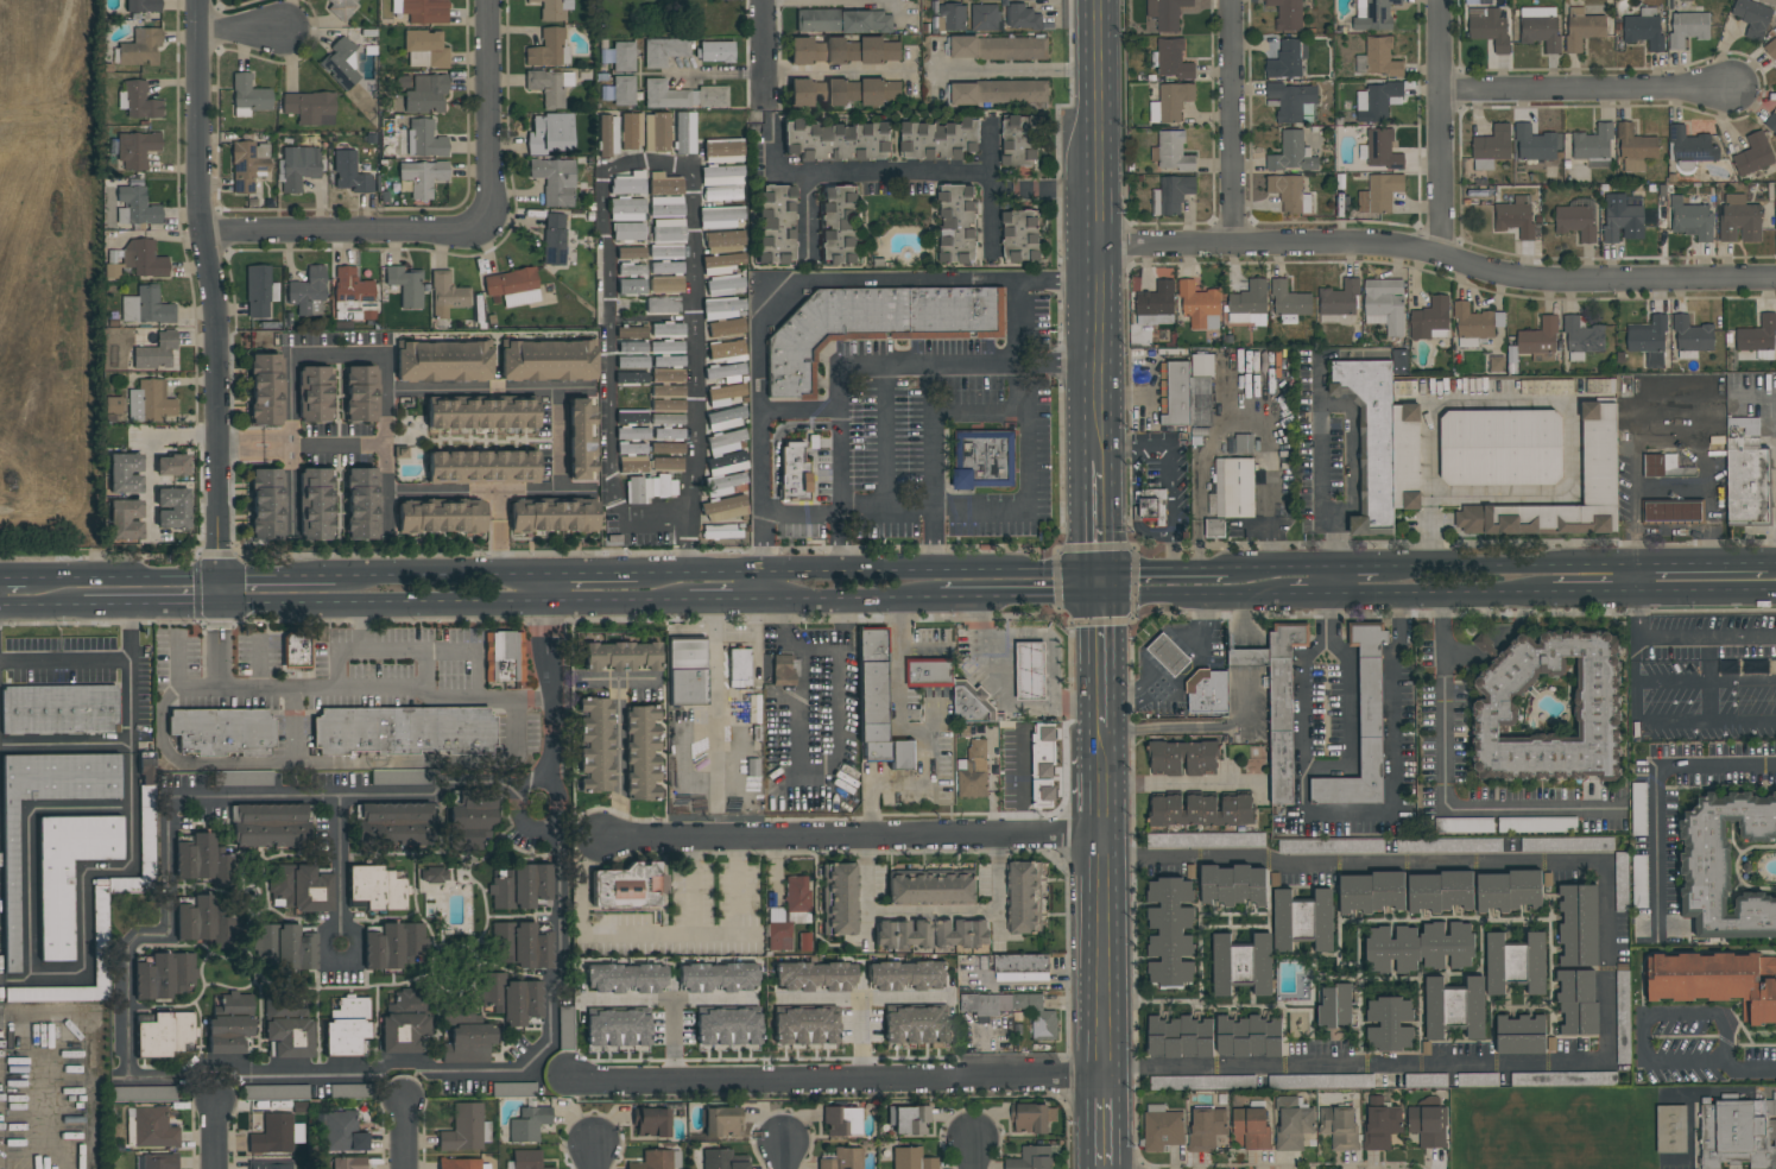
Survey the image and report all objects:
building: (143, 6)
building: (341, 6)
building: (551, 8)
building: (424, 11)
building: (1167, 13)
building: (1287, 14)
building: (1374, 14)
building: (952, 17)
building: (987, 17)
building: (1751, 17)
building: (1023, 18)
building: (843, 21)
building: (1489, 27)
building: (1540, 27)
building: (1688, 27)
building: (1582, 29)
building: (1644, 29)
road: (239, 32)
building: (1771, 45)
building: (140, 48)
building: (999, 48)
building: (424, 49)
building: (548, 49)
building: (663, 51)
building: (715, 51)
road: (764, 51)
building: (843, 51)
building: (619, 56)
building: (1378, 58)
building: (1173, 59)
building: (1285, 61)
building: (342, 63)
road: (1025, 70)
road: (834, 72)
road: (716, 74)
building: (549, 87)
building: (622, 90)
road: (1587, 91)
building: (808, 93)
building: (843, 93)
building: (881, 93)
building: (999, 93)
building: (425, 94)
building: (683, 95)
building: (247, 96)
building: (139, 101)
building: (1291, 101)
building: (1377, 101)
building: (1171, 102)
building: (310, 108)
road: (487, 110)
road: (1233, 121)
building: (1770, 124)
road: (1442, 126)
building: (630, 129)
building: (656, 132)
building: (683, 133)
building: (549, 134)
building: (607, 135)
building: (424, 139)
building: (940, 139)
building: (836, 141)
building: (1020, 141)
building: (1536, 144)
building: (1593, 145)
building: (1690, 146)
building: (1492, 147)
building: (135, 150)
building: (1382, 150)
building: (1635, 150)
building: (722, 151)
building: (1174, 152)
building: (1293, 154)
building: (1753, 154)
building: (247, 165)
building: (297, 168)
road: (618, 168)
road: (927, 172)
building: (349, 173)
building: (722, 175)
building: (421, 178)
building: (554, 181)
building: (628, 183)
building: (664, 184)
building: (1379, 192)
building: (721, 194)
building: (1289, 194)
building: (1171, 195)
building: (135, 207)
building: (665, 207)
building: (626, 209)
road: (803, 215)
building: (1515, 216)
building: (720, 217)
building: (1622, 219)
building: (1692, 219)
building: (1576, 220)
building: (1739, 220)
road: (991, 223)
building: (775, 225)
building: (838, 225)
building: (957, 225)
road: (343, 229)
building: (668, 230)
building: (627, 232)
building: (1020, 235)
building: (554, 239)
building: (723, 241)
road: (1431, 249)
building: (630, 252)
building: (665, 252)
building: (144, 259)
building: (720, 264)
building: (665, 267)
building: (631, 270)
road: (840, 280)
road: (1083, 283)
road: (1114, 283)
building: (665, 284)
building: (722, 285)
building: (405, 286)
building: (512, 286)
building: (630, 286)
road: (209, 287)
building: (306, 290)
building: (259, 291)
building: (447, 295)
building: (352, 296)
building: (1339, 299)
building: (1289, 303)
building: (1156, 304)
building: (1249, 304)
building: (662, 305)
building: (1200, 305)
building: (1384, 305)
building: (145, 307)
building: (723, 308)
building: (1430, 320)
building: (1475, 322)
building: (874, 326)
building: (725, 328)
building: (666, 329)
building: (631, 333)
building: (1758, 335)
building: (1538, 337)
building: (1692, 337)
building: (1582, 339)
building: (1648, 340)
building: (665, 347)
building: (726, 350)
building: (156, 352)
road: (337, 353)
building: (442, 361)
building: (546, 361)
building: (668, 361)
road: (1024, 368)
building: (668, 375)
building: (723, 375)
building: (631, 377)
road: (487, 388)
building: (265, 390)
building: (1187, 392)
building: (314, 393)
building: (360, 393)
building: (723, 394)
building: (668, 398)
building: (150, 402)
building: (114, 405)
building: (481, 415)
building: (726, 415)
building: (631, 417)
building: (666, 419)
road: (840, 424)
road: (1670, 429)
building: (632, 434)
building: (668, 434)
road: (558, 440)
building: (579, 440)
road: (933, 440)
building: (1371, 440)
road: (775, 441)
road: (290, 442)
building: (725, 442)
road: (385, 443)
road: (148, 444)
road: (301, 444)
building: (1239, 444)
road: (1127, 446)
building: (1500, 447)
building: (632, 448)
building: (666, 448)
building: (400, 453)
building: (1599, 454)
building: (986, 460)
building: (632, 463)
building: (666, 463)
building: (726, 463)
building: (171, 465)
building: (481, 466)
building: (1664, 467)
road: (1028, 470)
building: (125, 473)
building: (799, 473)
road: (1322, 473)
building: (1749, 480)
building: (722, 484)
road: (1430, 484)
building: (650, 488)
building: (1233, 489)
road: (761, 491)
road: (488, 492)
road: (1171, 494)
building: (361, 503)
building: (315, 504)
building: (1154, 504)
building: (266, 505)
building: (172, 508)
building: (725, 508)
road: (847, 511)
building: (1671, 512)
building: (552, 517)
building: (441, 518)
building: (125, 520)
building: (1215, 529)
road: (1673, 532)
road: (683, 546)
road: (1771, 562)
road: (1508, 563)
road: (1702, 563)
road: (1276, 565)
road: (1352, 565)
road: (1100, 567)
traffic signals: (1115, 567)
road: (1171, 567)
traffic signals: (1085, 568)
road: (860, 570)
road: (588, 574)
road: (13, 575)
road: (122, 575)
road: (277, 575)
road: (437, 575)
traffic signals: (219, 576)
road: (1637, 579)
road: (1325, 581)
road: (1085, 582)
road: (1115, 582)
road: (764, 588)
road: (219, 590)
road: (545, 590)
road: (1707, 594)
road: (1595, 595)
road: (1439, 596)
traffic signals: (1086, 598)
road: (1101, 598)
traffic signals: (1117, 598)
road: (1203, 598)
road: (1308, 598)
road: (1012, 599)
road: (853, 604)
road: (728, 605)
road: (151, 606)
traffic signals: (219, 606)
road: (455, 606)
road: (42, 607)
road: (533, 637)
road: (1445, 637)
road: (1686, 638)
road: (1050, 640)
building: (872, 644)
building: (1484, 644)
road: (219, 647)
road: (411, 649)
building: (296, 651)
road: (551, 652)
building: (1168, 655)
building: (620, 656)
building: (504, 657)
road: (65, 661)
road: (1117, 663)
building: (739, 668)
road: (424, 669)
building: (784, 670)
building: (930, 670)
building: (1031, 671)
building: (685, 672)
gas station: (1032, 672)
road: (838, 674)
road: (352, 688)
road: (1006, 688)
building: (872, 693)
building: (1208, 693)
road: (532, 697)
building: (1278, 702)
building: (972, 703)
building: (58, 709)
building: (1549, 709)
road: (898, 716)
road: (715, 722)
road: (296, 727)
building: (1361, 727)
road: (1202, 728)
building: (222, 731)
building: (405, 731)
building: (872, 733)
building: (593, 745)
building: (877, 752)
building: (641, 753)
building: (903, 756)
building: (1183, 758)
road: (618, 762)
road: (301, 764)
building: (1044, 765)
building: (973, 771)
building: (399, 777)
building: (244, 778)
road: (1023, 784)
road: (1186, 784)
road: (876, 786)
road: (1656, 792)
building: (145, 794)
road: (364, 797)
building: (1638, 809)
building: (1201, 810)
road: (1468, 811)
road: (1345, 815)
building: (397, 823)
building: (1529, 824)
building: (270, 826)
building: (1465, 826)
road: (1089, 835)
road: (858, 838)
building: (1200, 840)
building: (1458, 845)
building: (1567, 845)
building: (1331, 846)
road: (131, 851)
road: (1364, 858)
building: (204, 861)
road: (341, 865)
building: (1730, 866)
building: (68, 872)
road: (551, 872)
building: (1641, 874)
building: (431, 877)
building: (1622, 882)
building: (10, 885)
building: (1233, 885)
building: (375, 887)
building: (520, 887)
building: (627, 887)
building: (931, 890)
building: (1509, 891)
building: (1372, 892)
building: (1440, 892)
building: (1025, 898)
building: (839, 899)
road: (1118, 901)
road: (929, 912)
building: (100, 914)
building: (789, 914)
building: (1303, 921)
building: (204, 922)
building: (1579, 925)
road: (341, 931)
building: (1170, 931)
building: (902, 934)
building: (961, 934)
road: (146, 936)
road: (634, 936)
building: (284, 946)
building: (393, 946)
building: (519, 946)
building: (1420, 948)
road: (1611, 962)
building: (1516, 963)
building: (1024, 965)
building: (1241, 965)
building: (906, 975)
building: (165, 977)
building: (813, 977)
building: (625, 978)
building: (716, 978)
building: (1714, 981)
building: (55, 993)
building: (512, 999)
road: (821, 999)
road: (866, 999)
building: (1578, 1001)
building: (235, 1003)
road: (668, 1003)
building: (1335, 1006)
building: (1455, 1009)
building: (1013, 1011)
building: (1623, 1017)
building: (405, 1022)
building: (1390, 1023)
building: (915, 1025)
building: (347, 1026)
building: (564, 1026)
building: (804, 1026)
building: (727, 1028)
building: (287, 1029)
building: (617, 1029)
building: (227, 1034)
building: (463, 1034)
building: (1521, 1035)
building: (1249, 1036)
building: (1180, 1037)
road: (671, 1041)
road: (1714, 1064)
road: (1366, 1069)
road: (343, 1074)
road: (1105, 1074)
road: (829, 1078)
building: (1563, 1079)
building: (1426, 1080)
building: (1478, 1080)
building: (1321, 1081)
building: (1202, 1082)
building: (292, 1091)
building: (350, 1091)
building: (143, 1093)
building: (1032, 1118)
building: (908, 1119)
building: (840, 1120)
building: (721, 1121)
road: (1089, 1121)
road: (1121, 1121)
building: (651, 1123)
building: (1293, 1123)
building: (527, 1124)
building: (1428, 1125)
building: (1382, 1126)
building: (1206, 1127)
building: (1251, 1127)
building: (1340, 1127)
building: (153, 1129)
building: (466, 1129)
building: (1162, 1129)
building: (1670, 1129)
building: (342, 1132)
road: (403, 1133)
building: (1738, 1133)
road: (215, 1135)
building: (276, 1135)
road: (975, 1155)
road: (783, 1156)
road: (593, 1157)
building: (911, 1158)
building: (1032, 1158)
building: (525, 1159)
building: (652, 1159)
building: (720, 1159)
building: (842, 1159)
building: (160, 1161)
building: (348, 1163)
building: (270, 1164)
building: (462, 1164)

